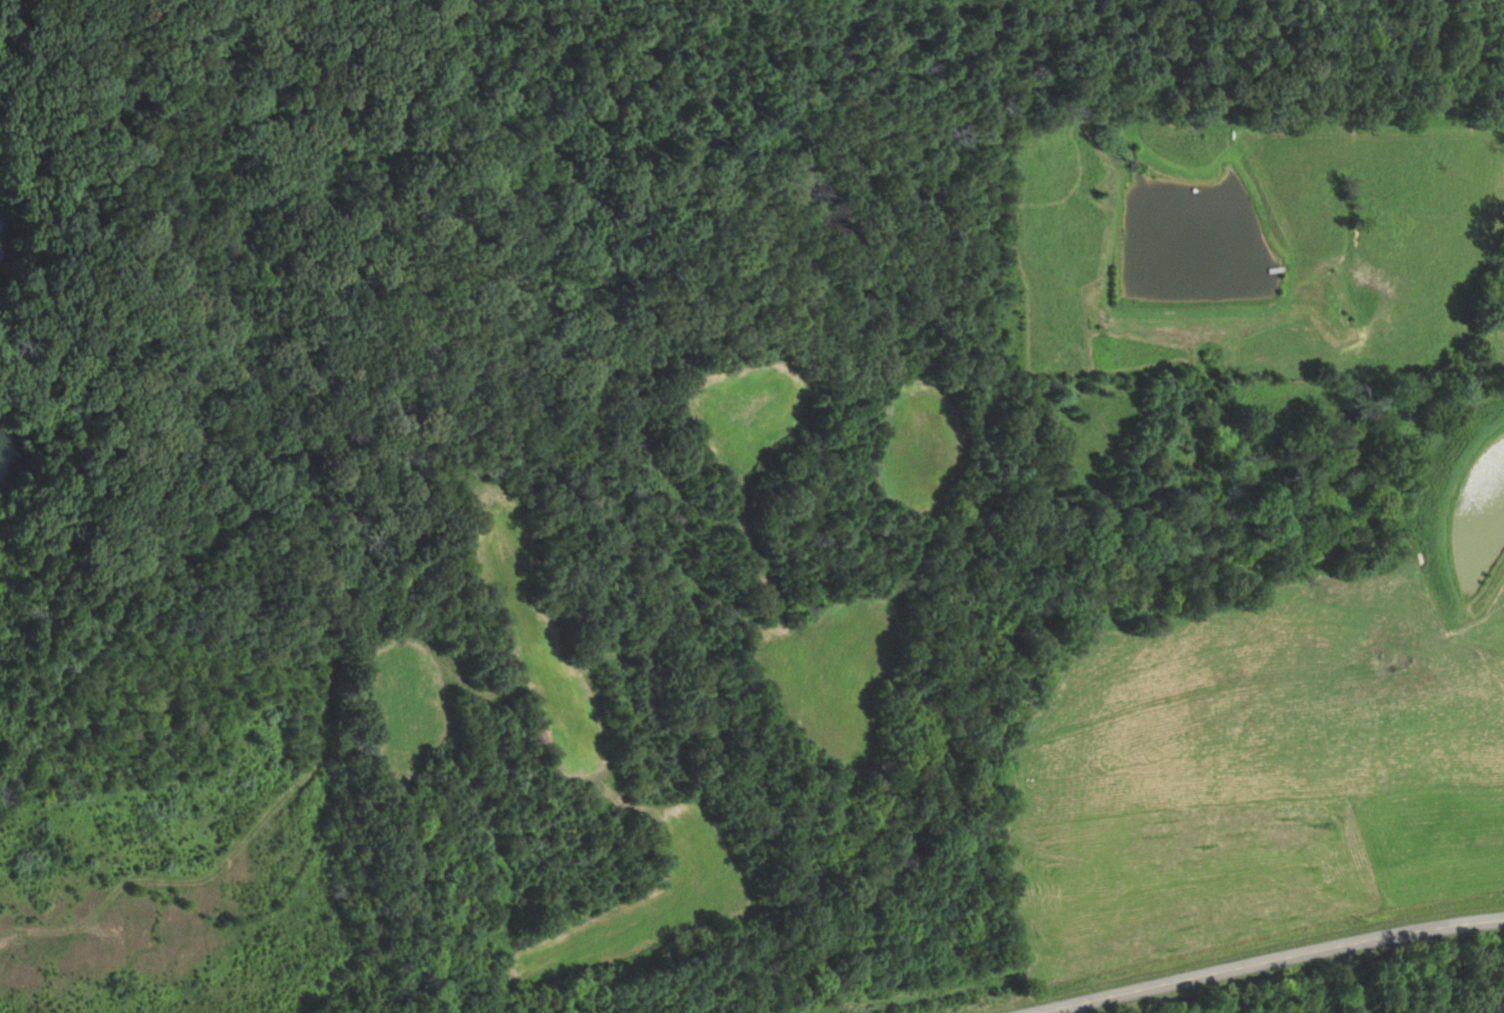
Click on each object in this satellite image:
dam: (1, 636)
road: (1264, 960)

